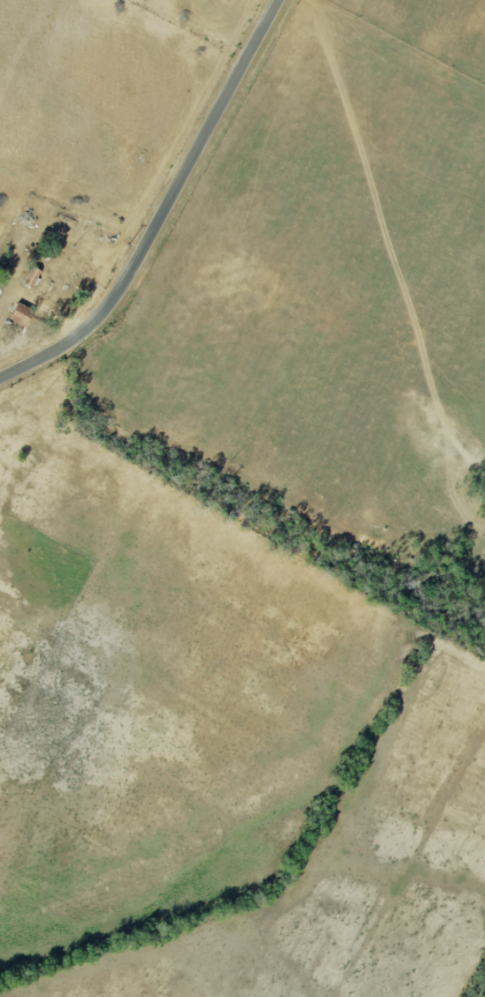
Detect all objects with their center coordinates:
road: (164, 210)
building: (33, 276)
building: (22, 313)

